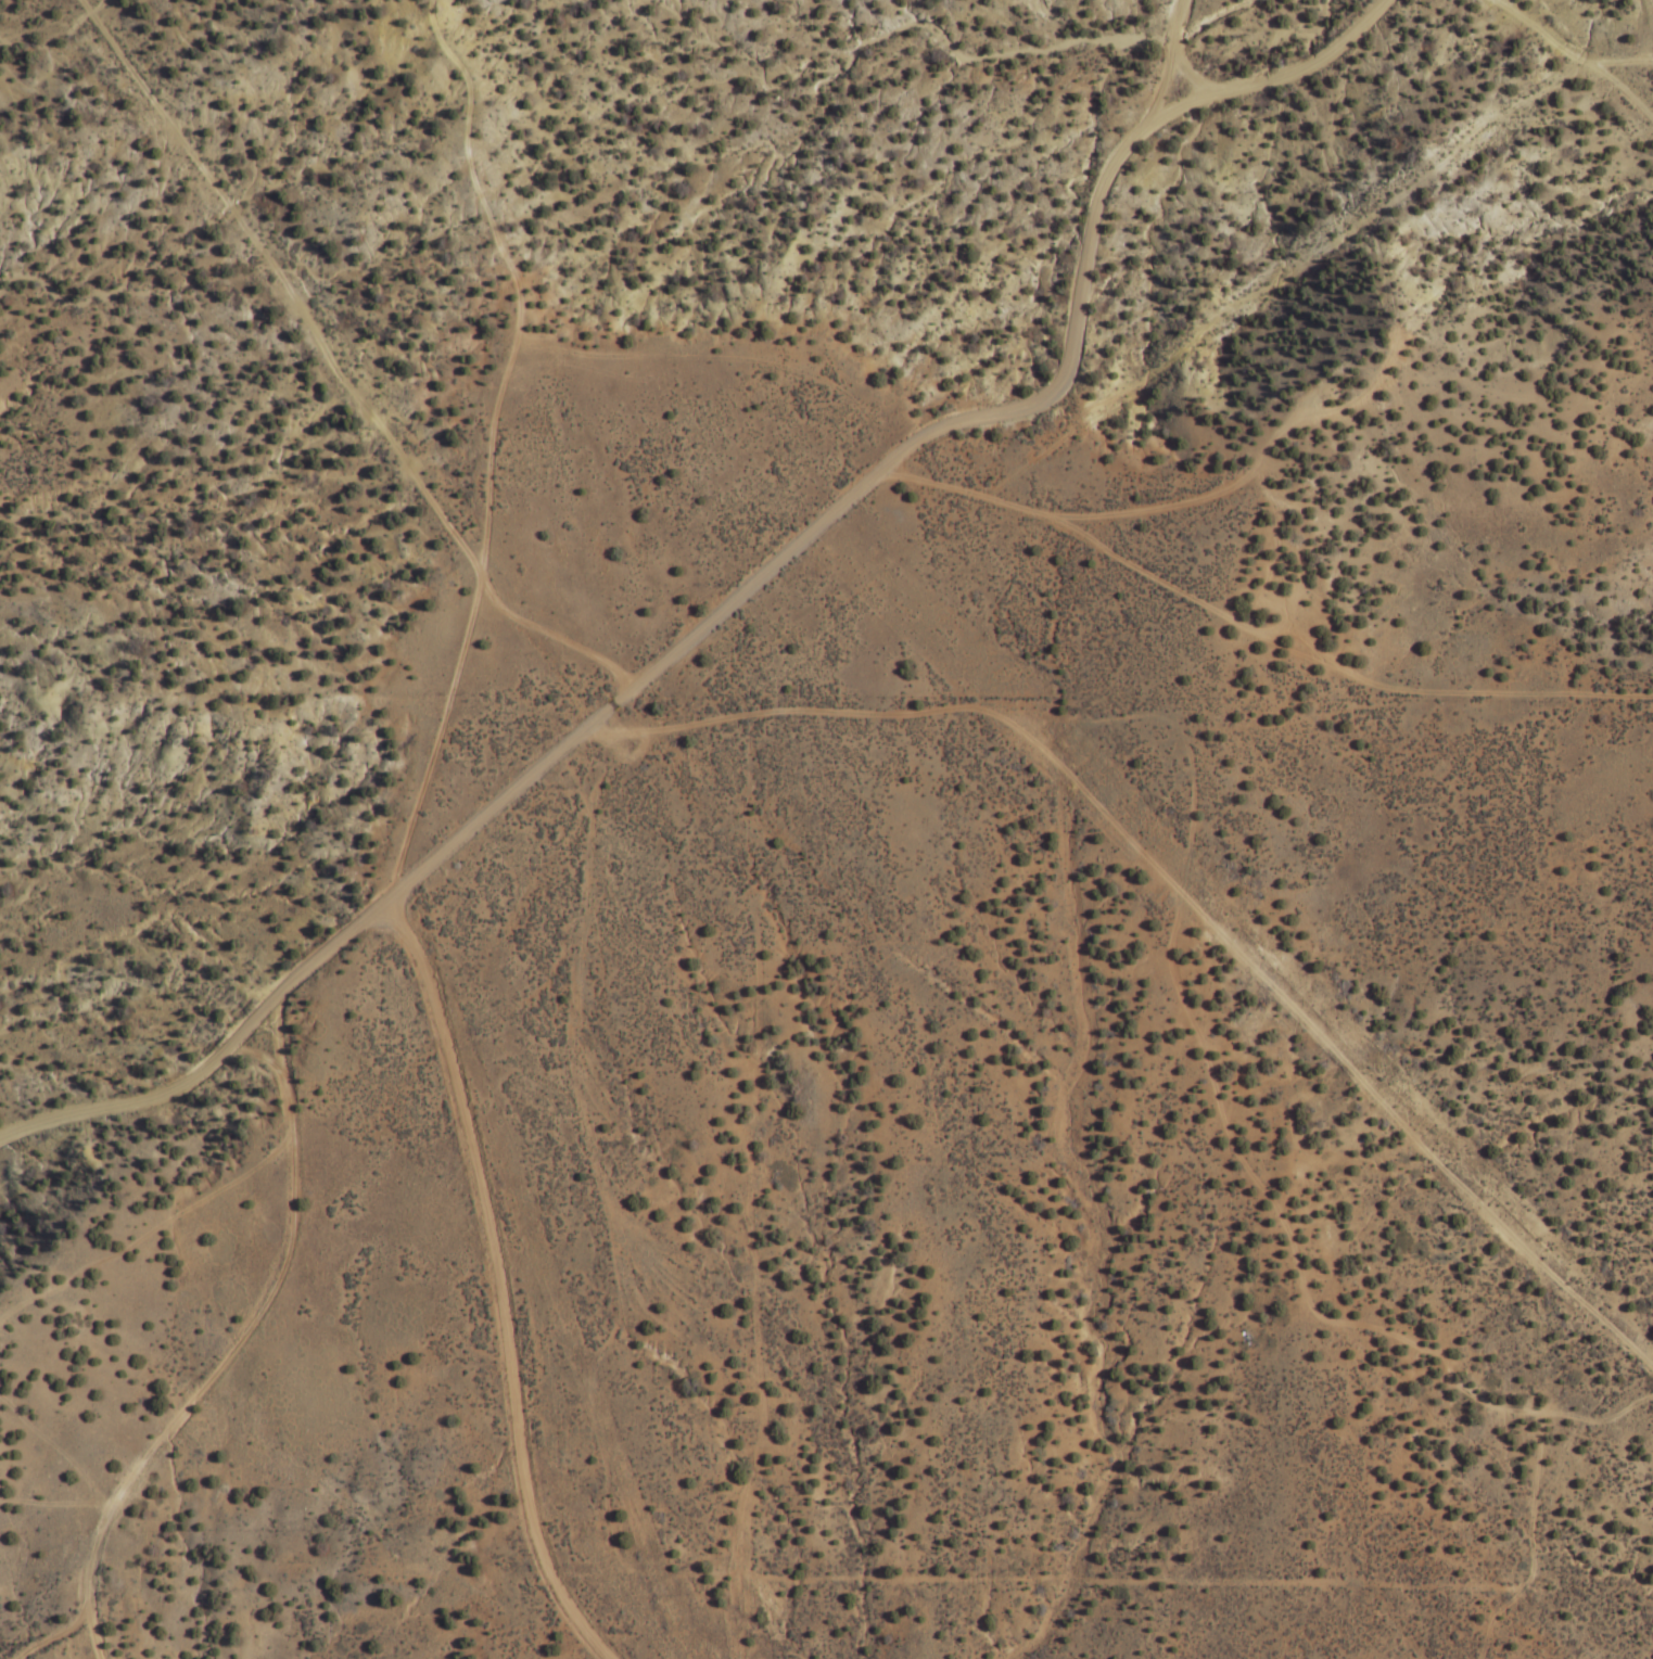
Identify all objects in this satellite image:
road: (1542, 34)
road: (1166, 62)
road: (1624, 62)
road: (1185, 74)
road: (1625, 93)
road: (332, 369)
road: (920, 438)
road: (487, 445)
road: (1168, 507)
road: (1328, 668)
road: (1180, 893)
road: (254, 1054)
road: (216, 1059)
road: (495, 1282)
road: (237, 1343)
road: (53, 1637)

